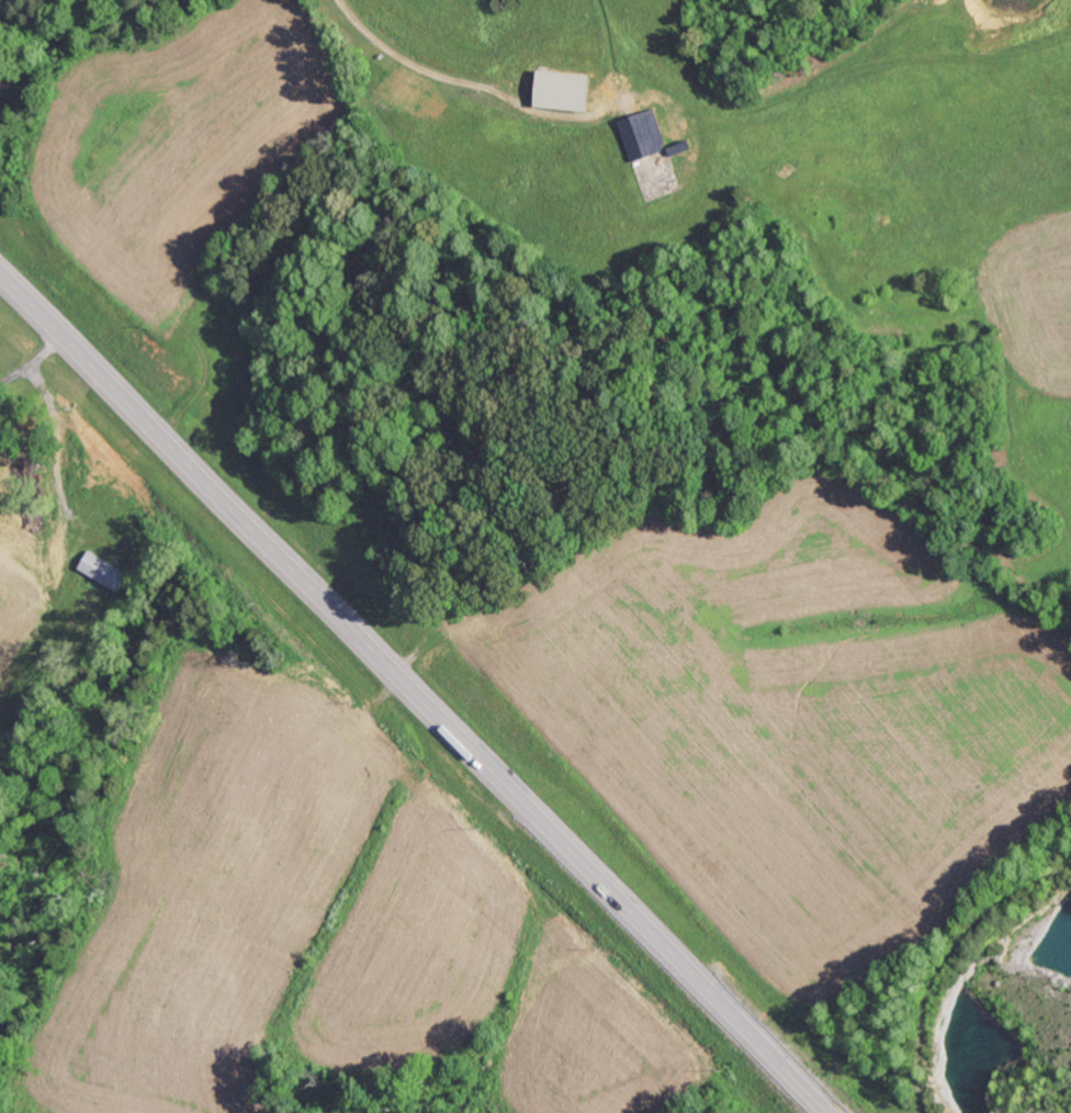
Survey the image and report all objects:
road: (76, 27)
building: (570, 89)
building: (646, 135)
building: (106, 571)
road: (415, 694)

